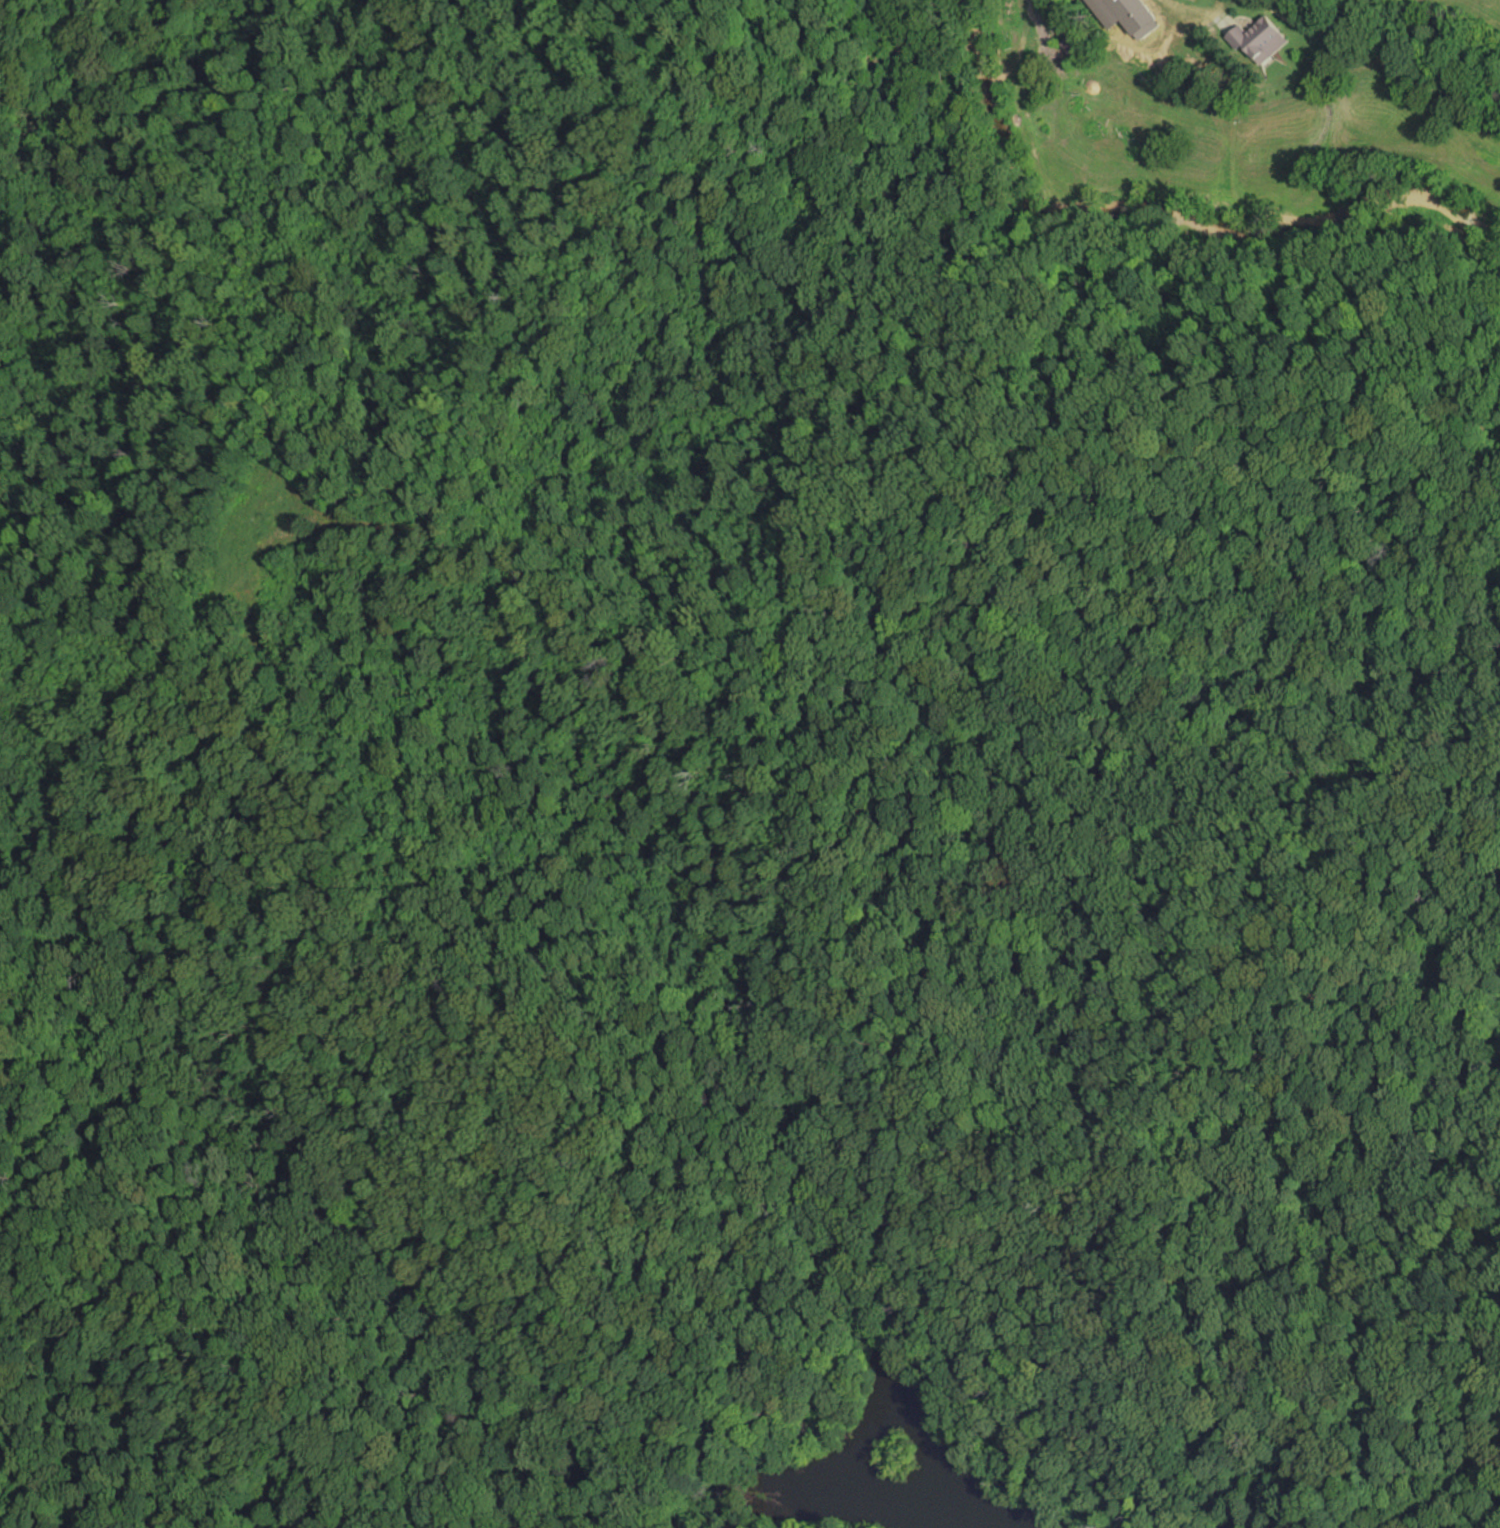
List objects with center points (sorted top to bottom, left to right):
building: (1114, 6)
road: (1192, 8)
building: (1257, 39)

